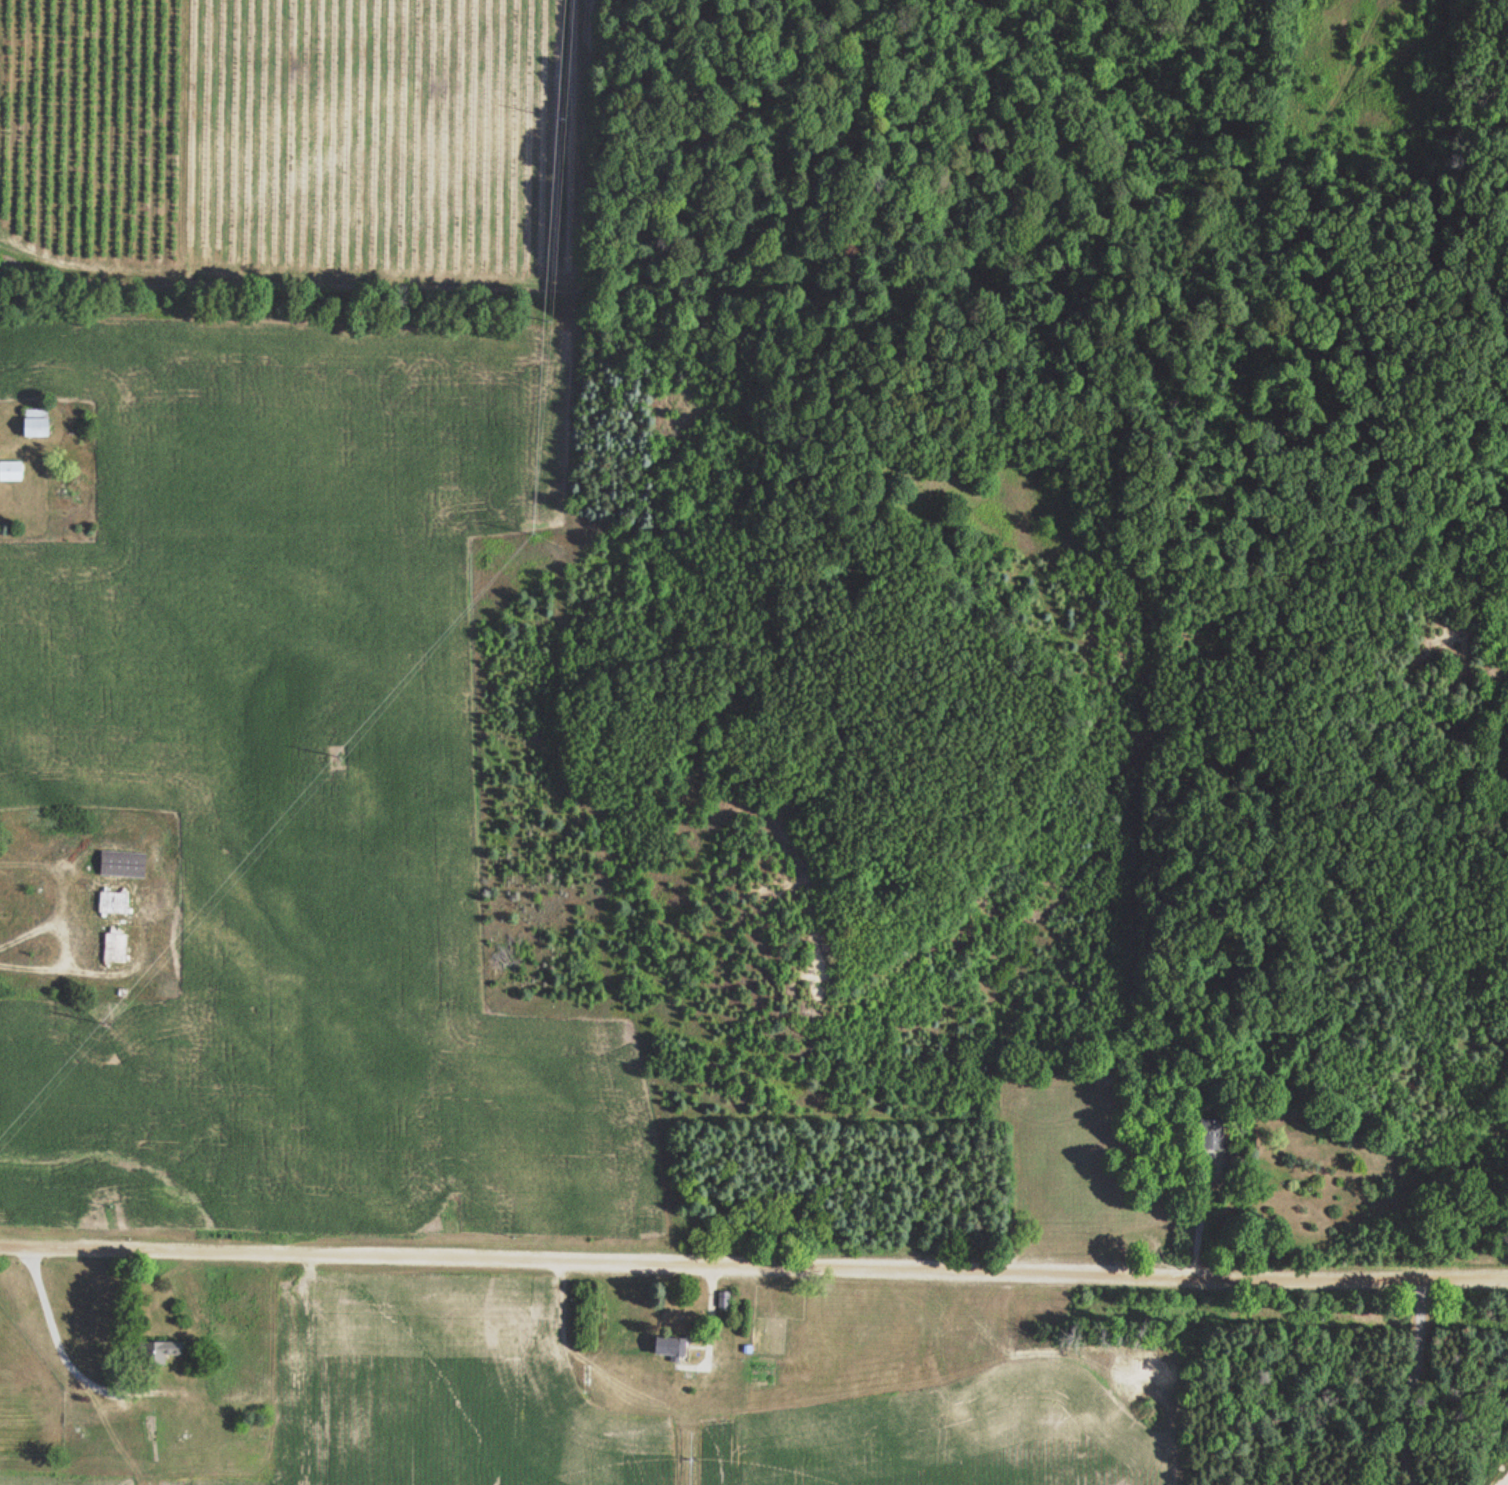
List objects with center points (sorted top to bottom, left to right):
building: (32, 424)
building: (11, 472)
building: (120, 865)
building: (111, 903)
building: (113, 948)
building: (1210, 1136)
road: (753, 1250)
building: (884, 1333)
building: (667, 1346)
building: (161, 1352)
building: (232, 1376)

